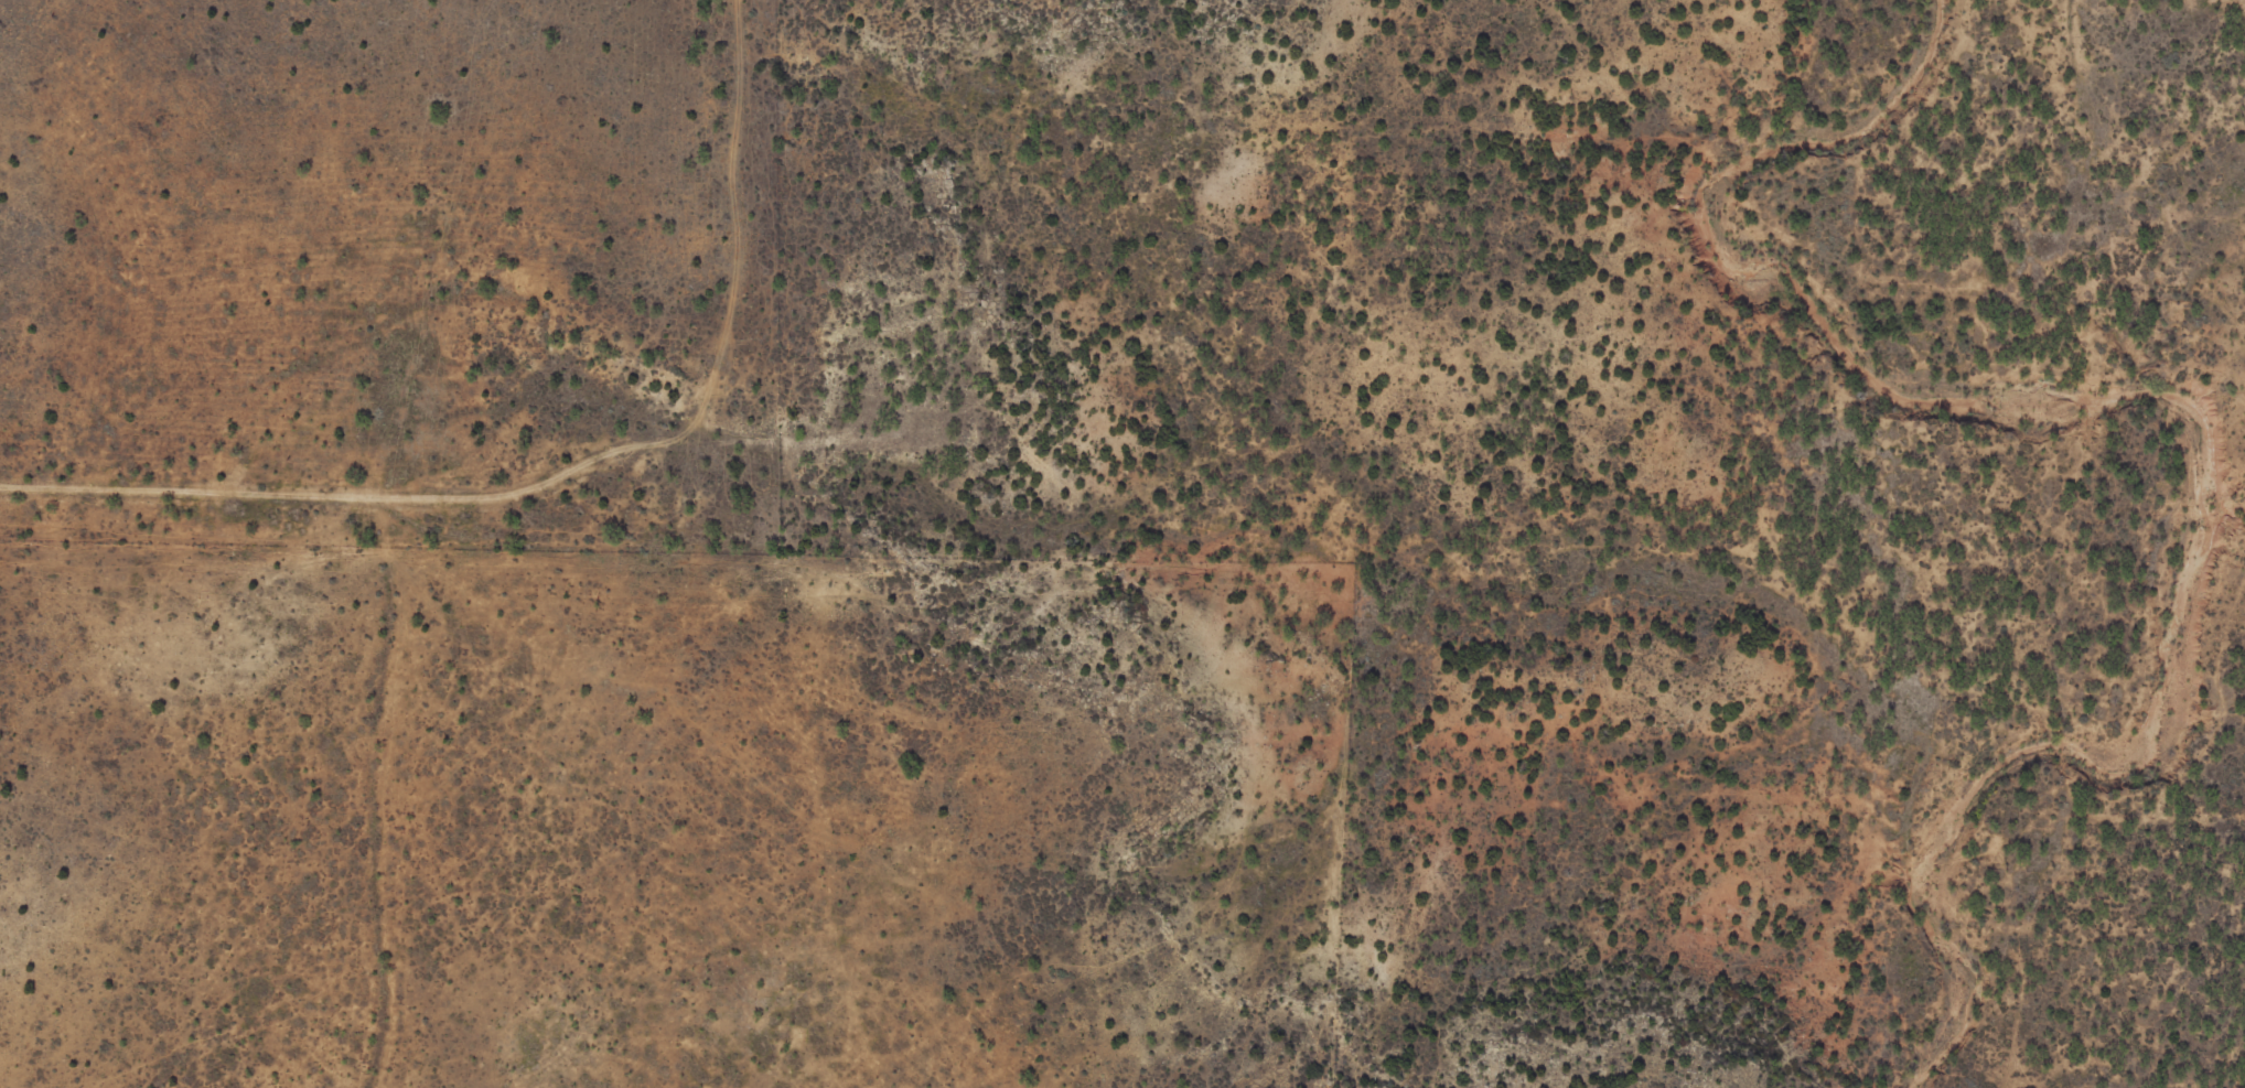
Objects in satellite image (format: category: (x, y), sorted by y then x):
road: (472, 473)

